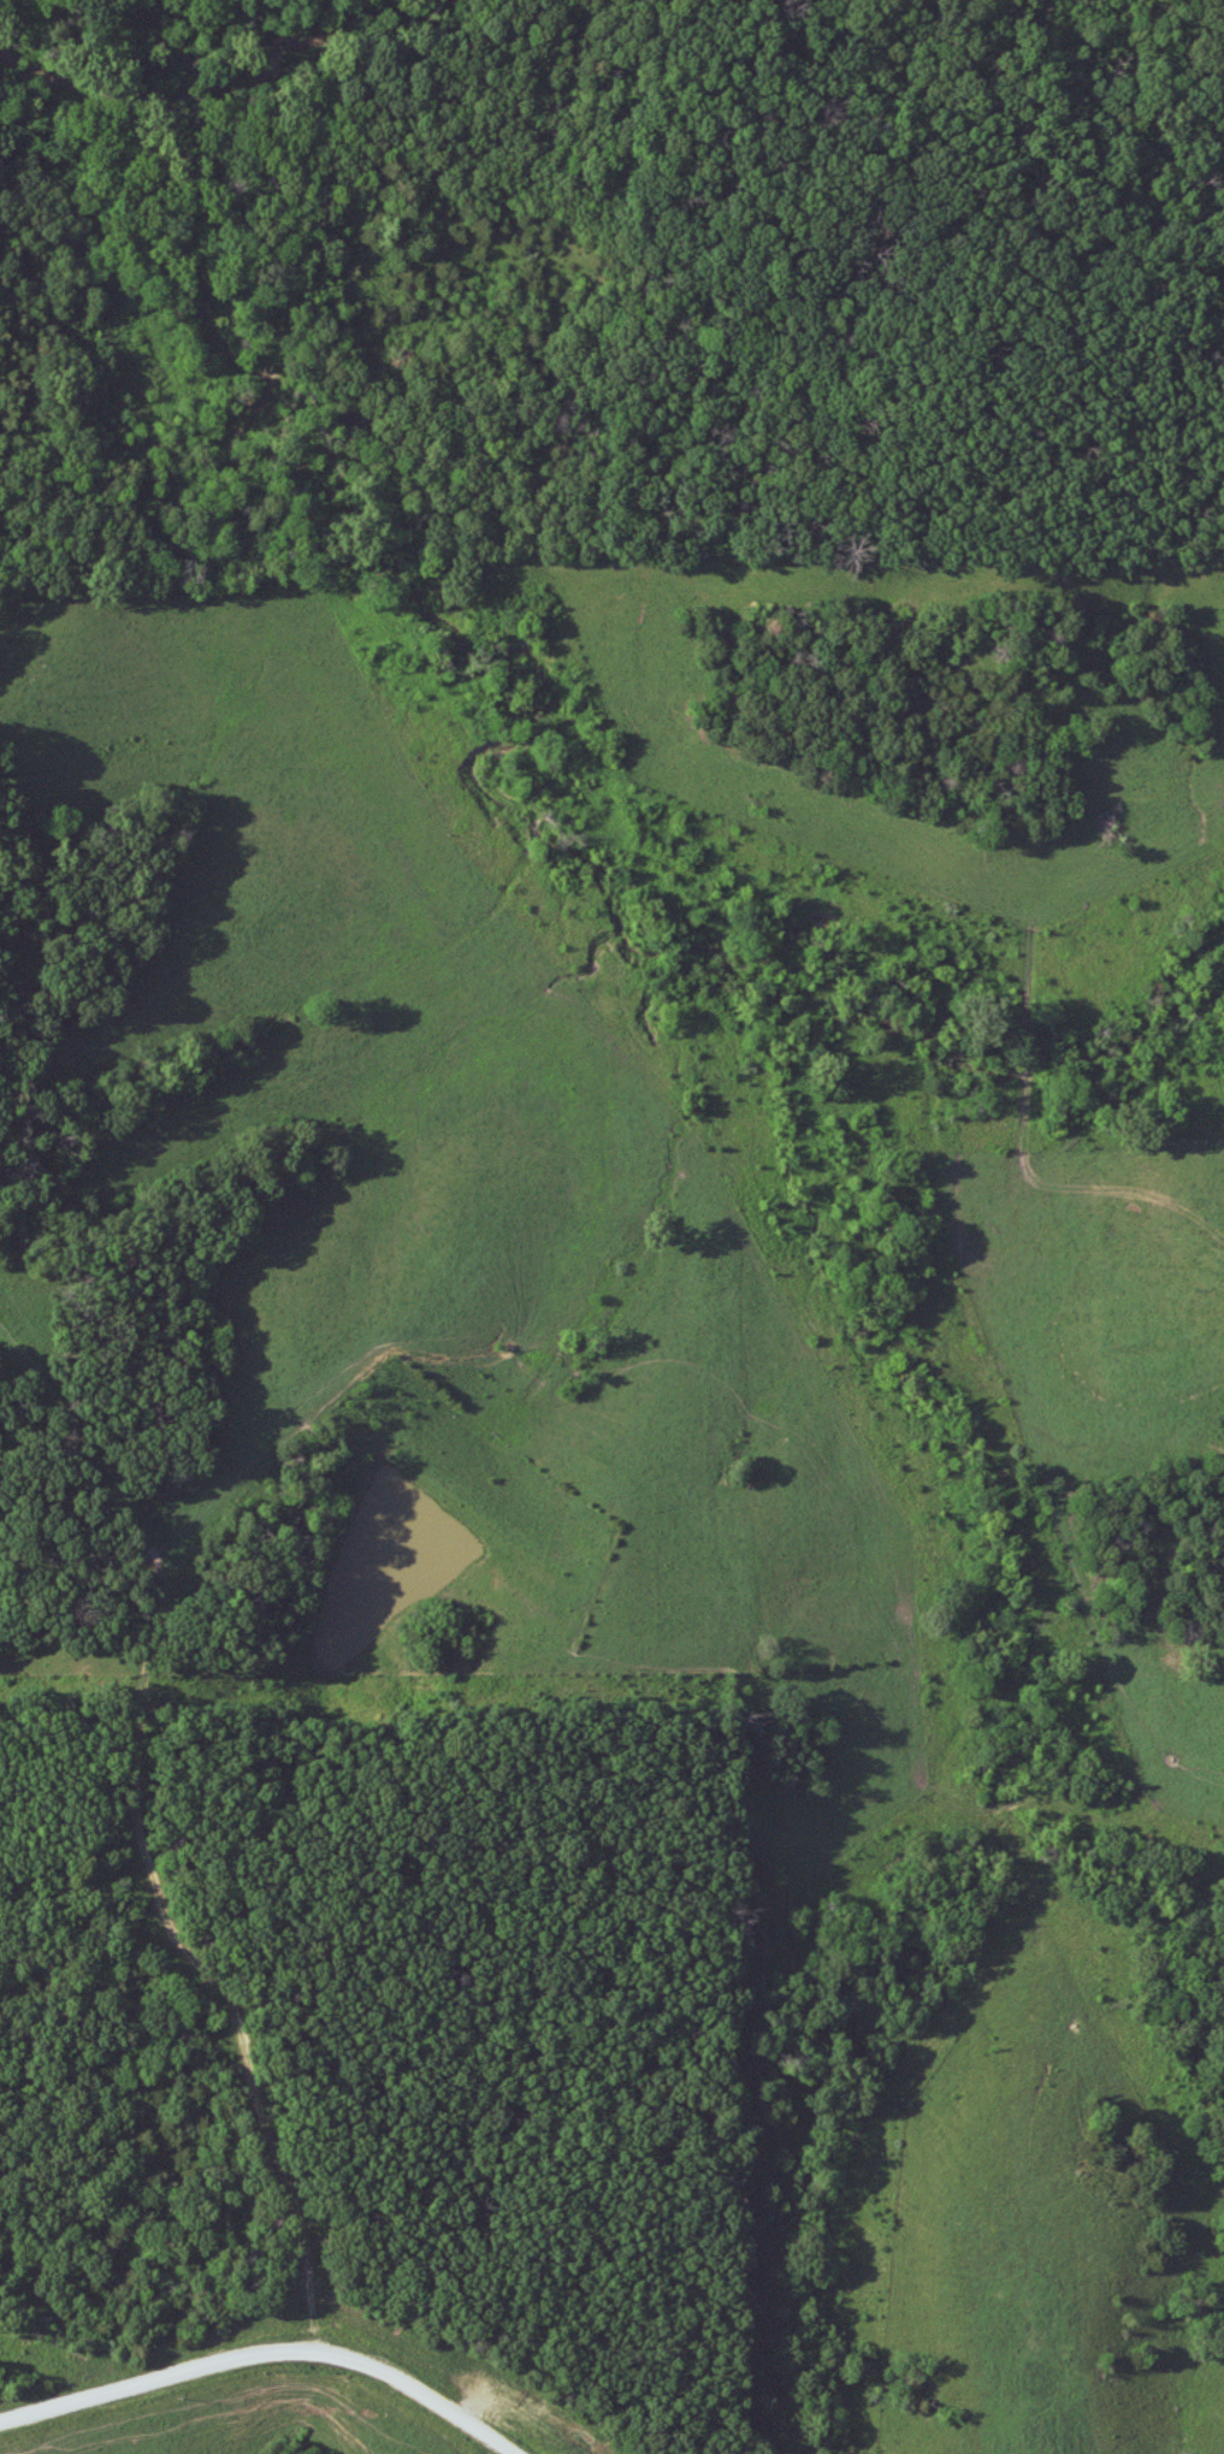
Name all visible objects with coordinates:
road: (267, 2348)

